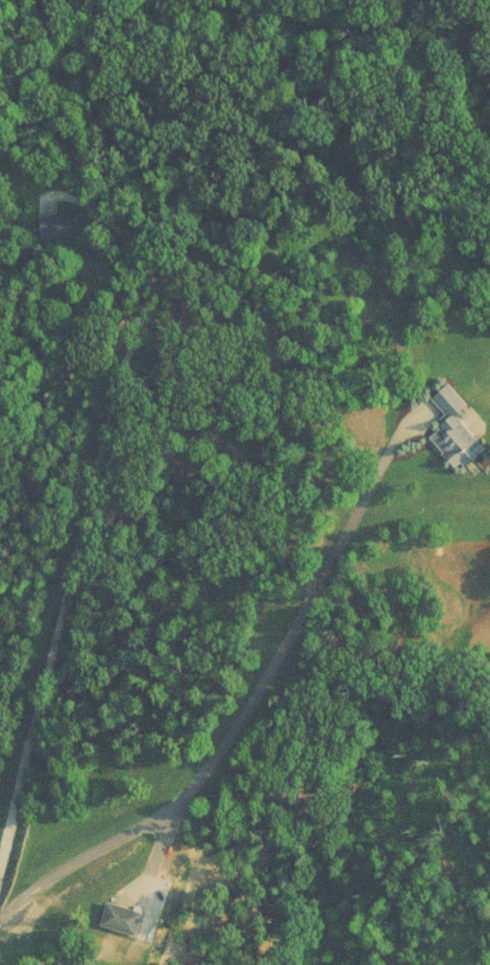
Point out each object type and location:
road: (74, 504)
road: (252, 703)

